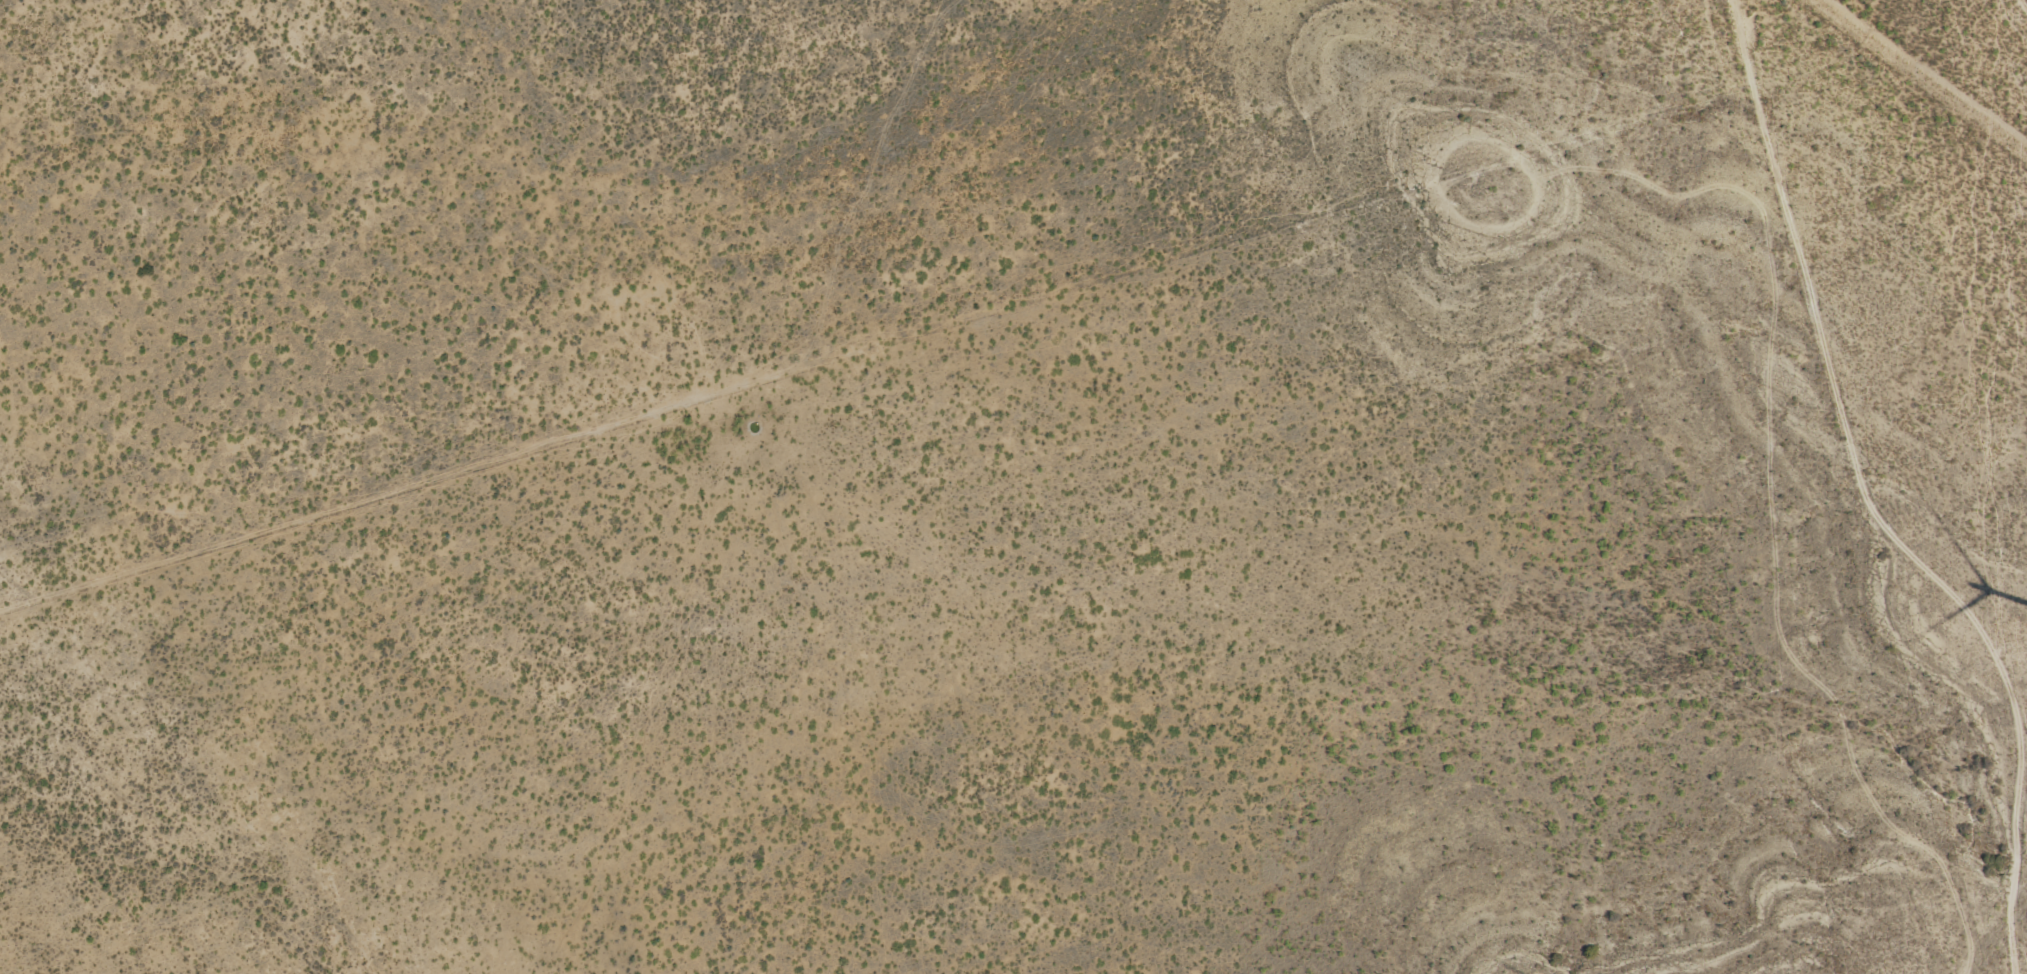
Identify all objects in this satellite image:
road: (1821, 357)
road: (1997, 871)

